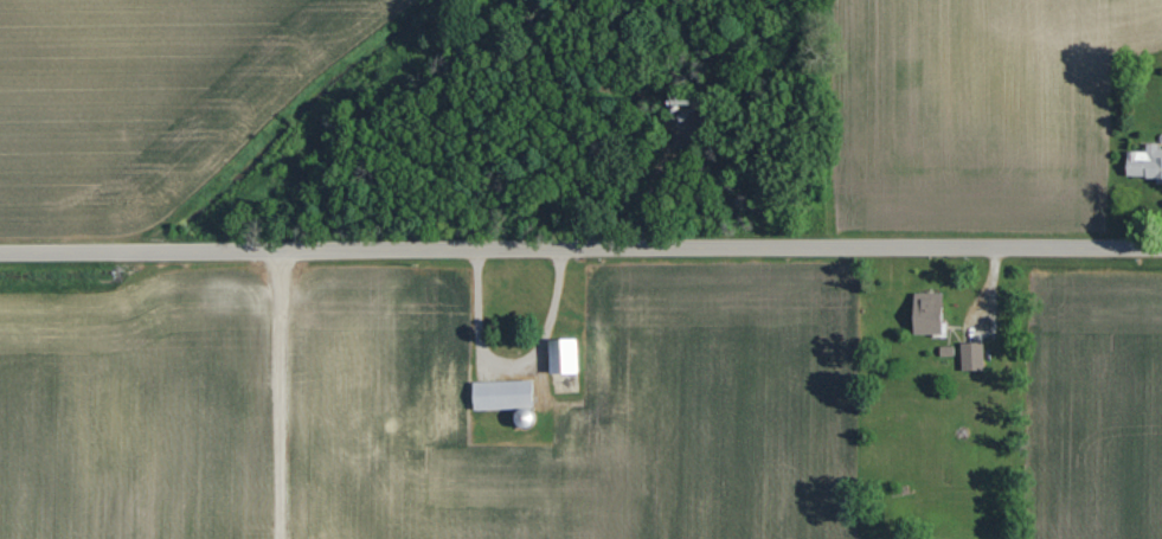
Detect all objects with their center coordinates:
building: (1144, 163)
road: (580, 240)
building: (926, 313)
building: (971, 355)
building: (578, 366)
building: (442, 370)
building: (502, 394)

